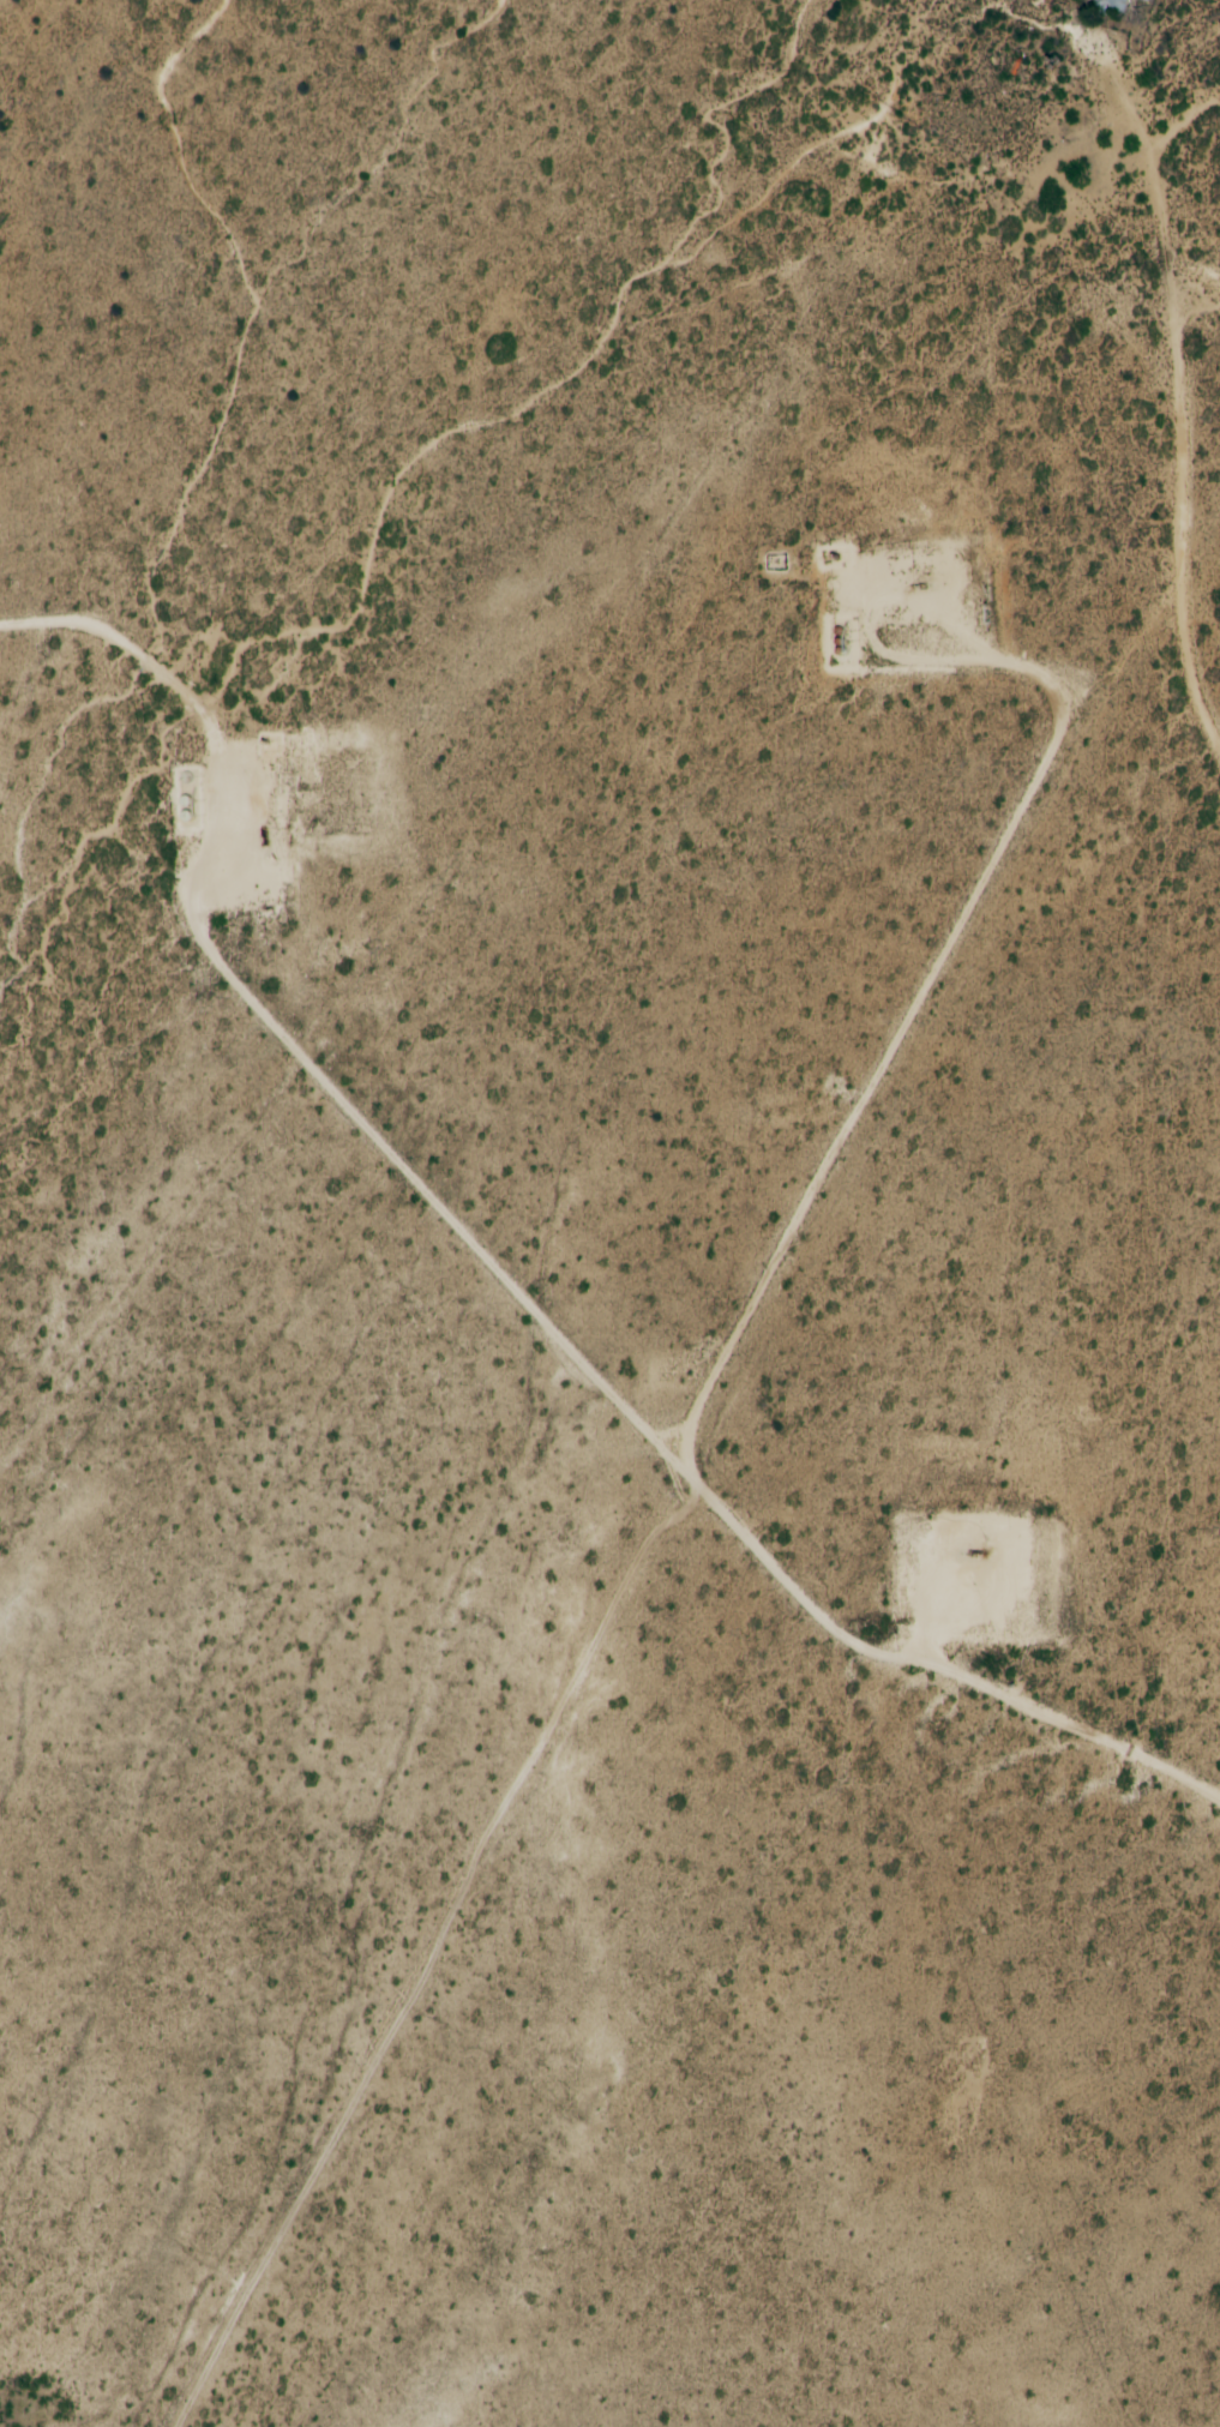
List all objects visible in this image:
road: (1182, 398)

